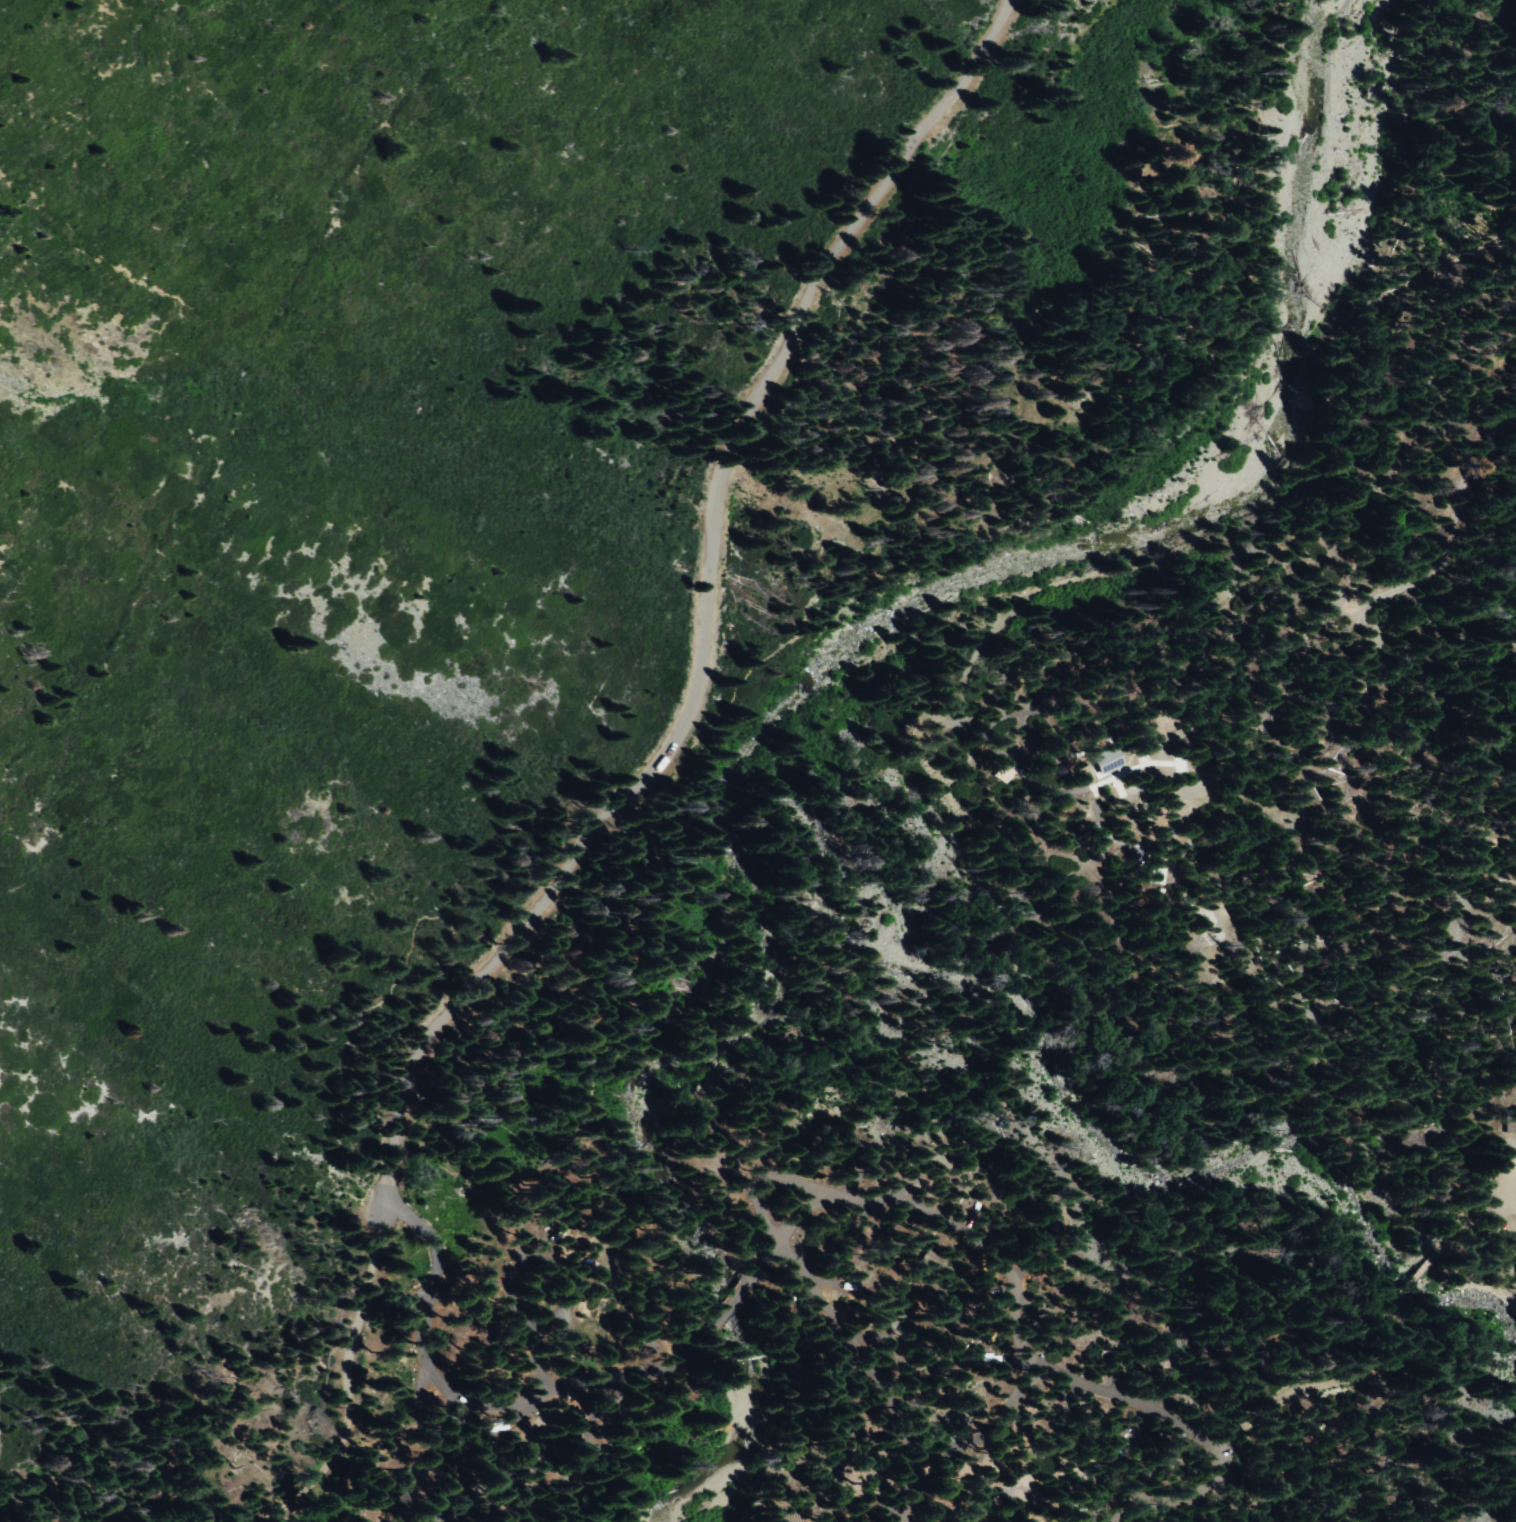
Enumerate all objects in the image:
road: (702, 608)
road: (1265, 666)
building: (1104, 760)
building: (1154, 875)
building: (1508, 1119)
road: (1510, 1187)
road: (1511, 1211)
road: (1464, 1220)
road: (757, 1271)
road: (1413, 1271)
road: (574, 1280)
road: (726, 1307)
road: (1029, 1351)
road: (875, 1374)
road: (1329, 1382)
road: (344, 1384)
road: (477, 1398)
road: (542, 1469)

